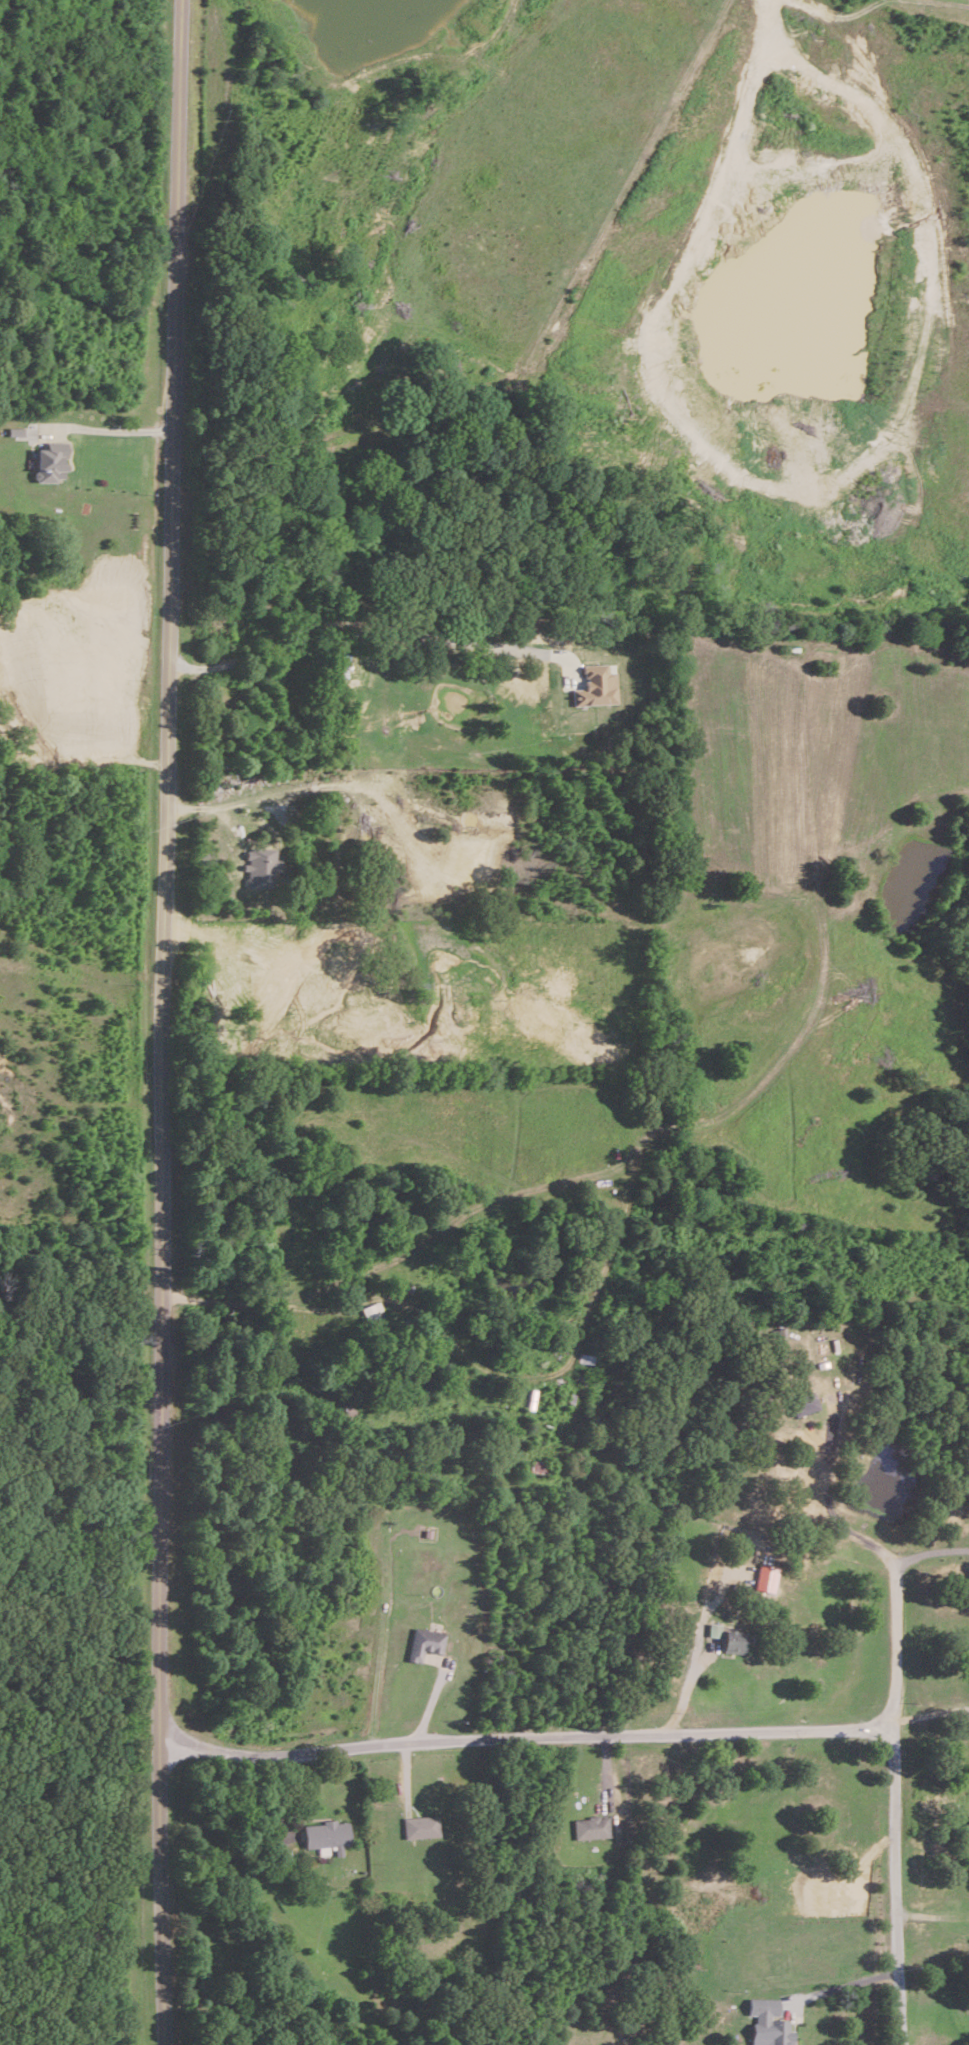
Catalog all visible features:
road: (121, 429)
building: (50, 460)
road: (371, 621)
building: (596, 685)
building: (261, 867)
road: (165, 1022)
building: (372, 1312)
building: (803, 1402)
road: (827, 1495)
road: (930, 1551)
building: (766, 1577)
building: (715, 1629)
building: (734, 1639)
building: (427, 1642)
road: (685, 1690)
road: (931, 1714)
road: (526, 1738)
road: (896, 1804)
building: (421, 1825)
building: (592, 1826)
building: (327, 1834)
road: (851, 1975)
building: (768, 2022)

